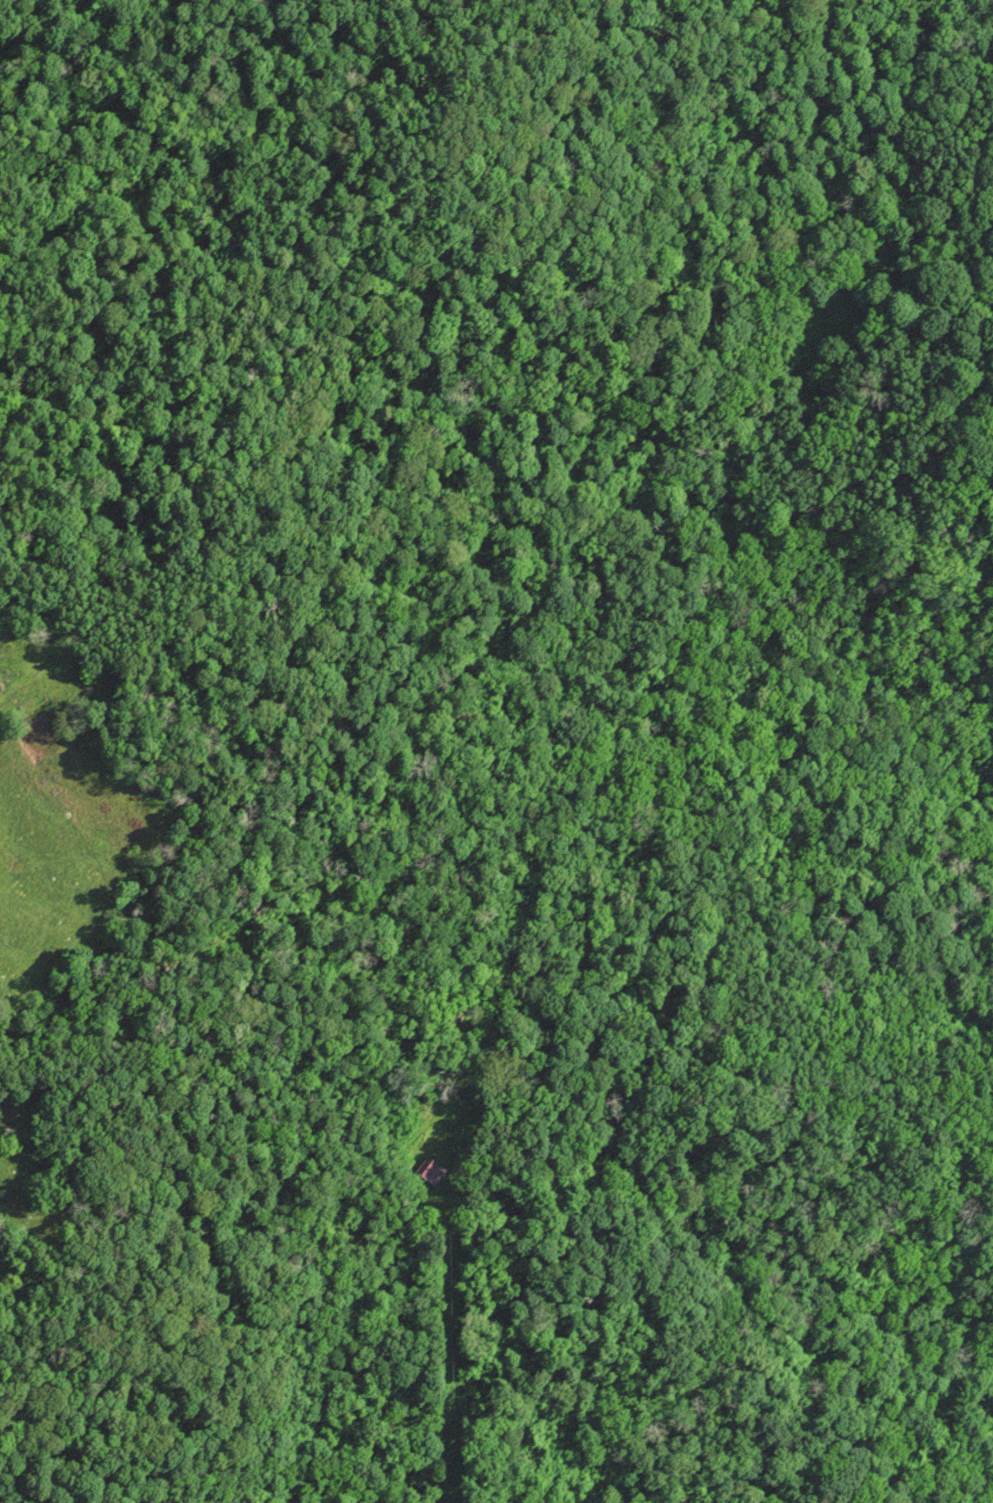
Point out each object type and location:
building: (429, 1172)
road: (347, 1355)

